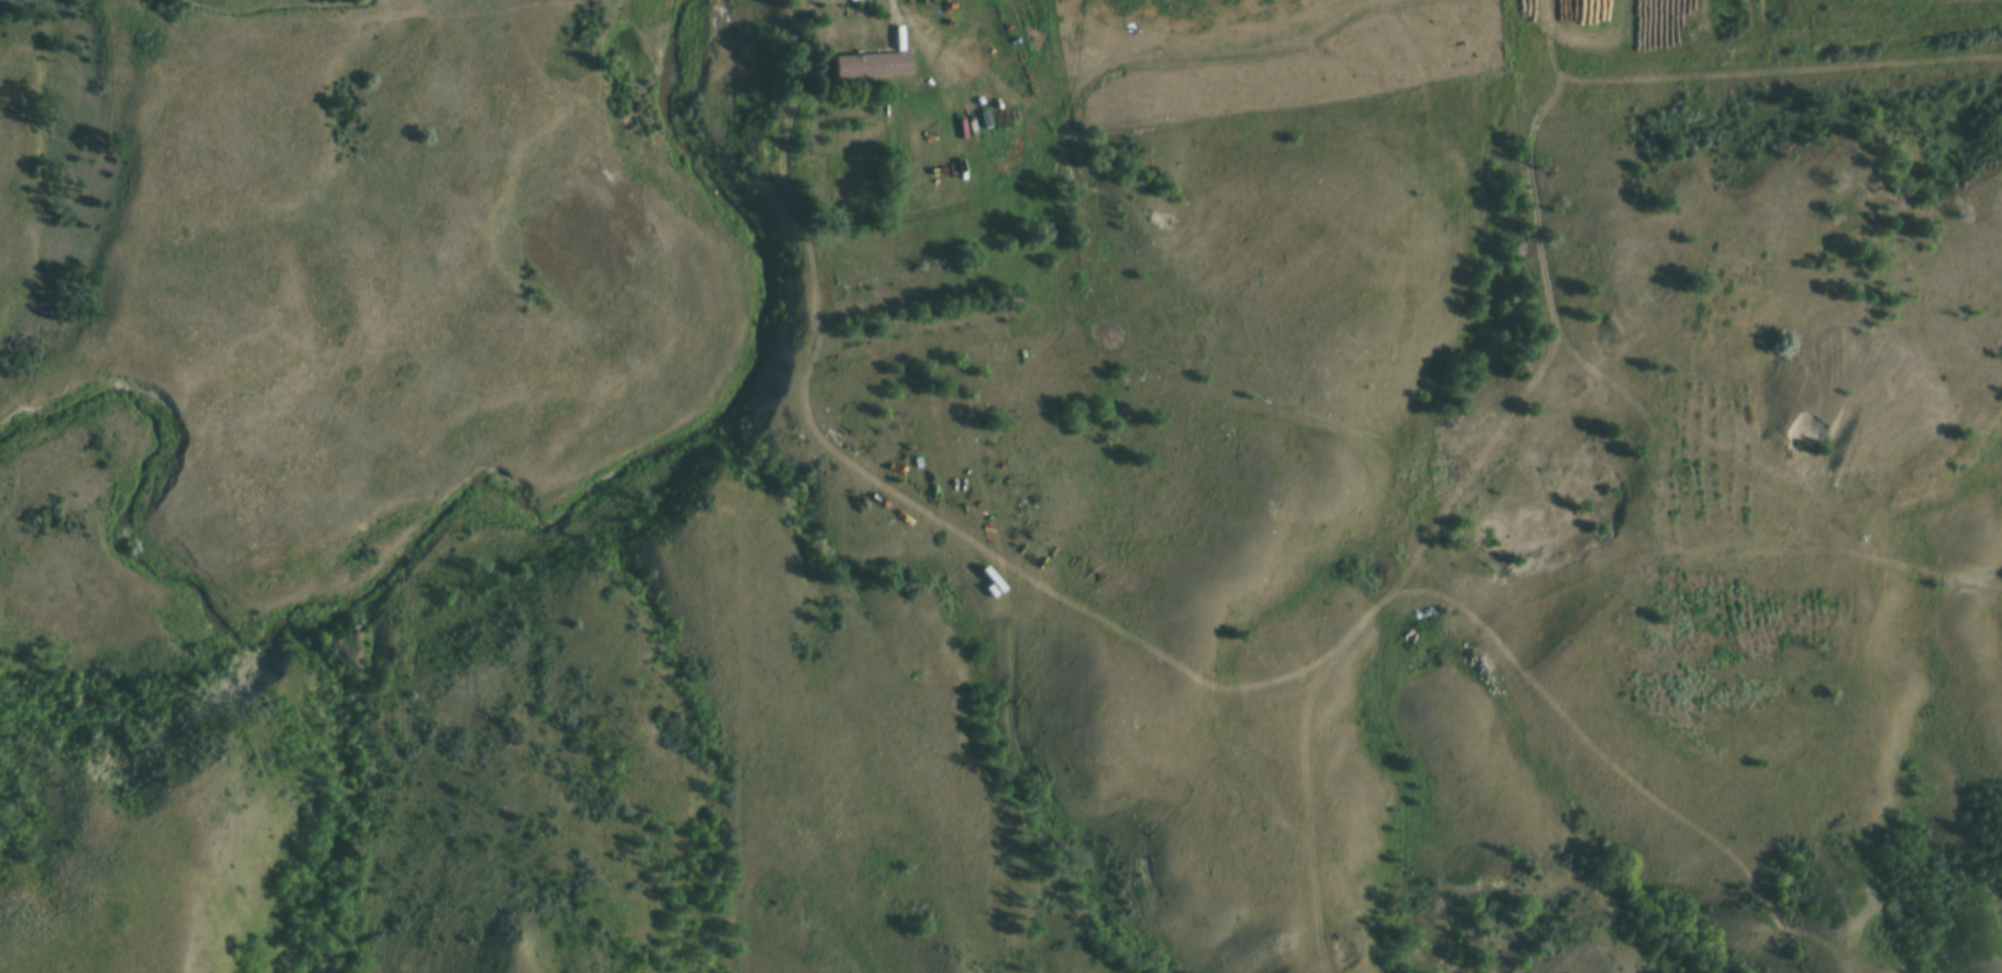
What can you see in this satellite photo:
road: (1555, 39)
building: (873, 67)
road: (1615, 71)

